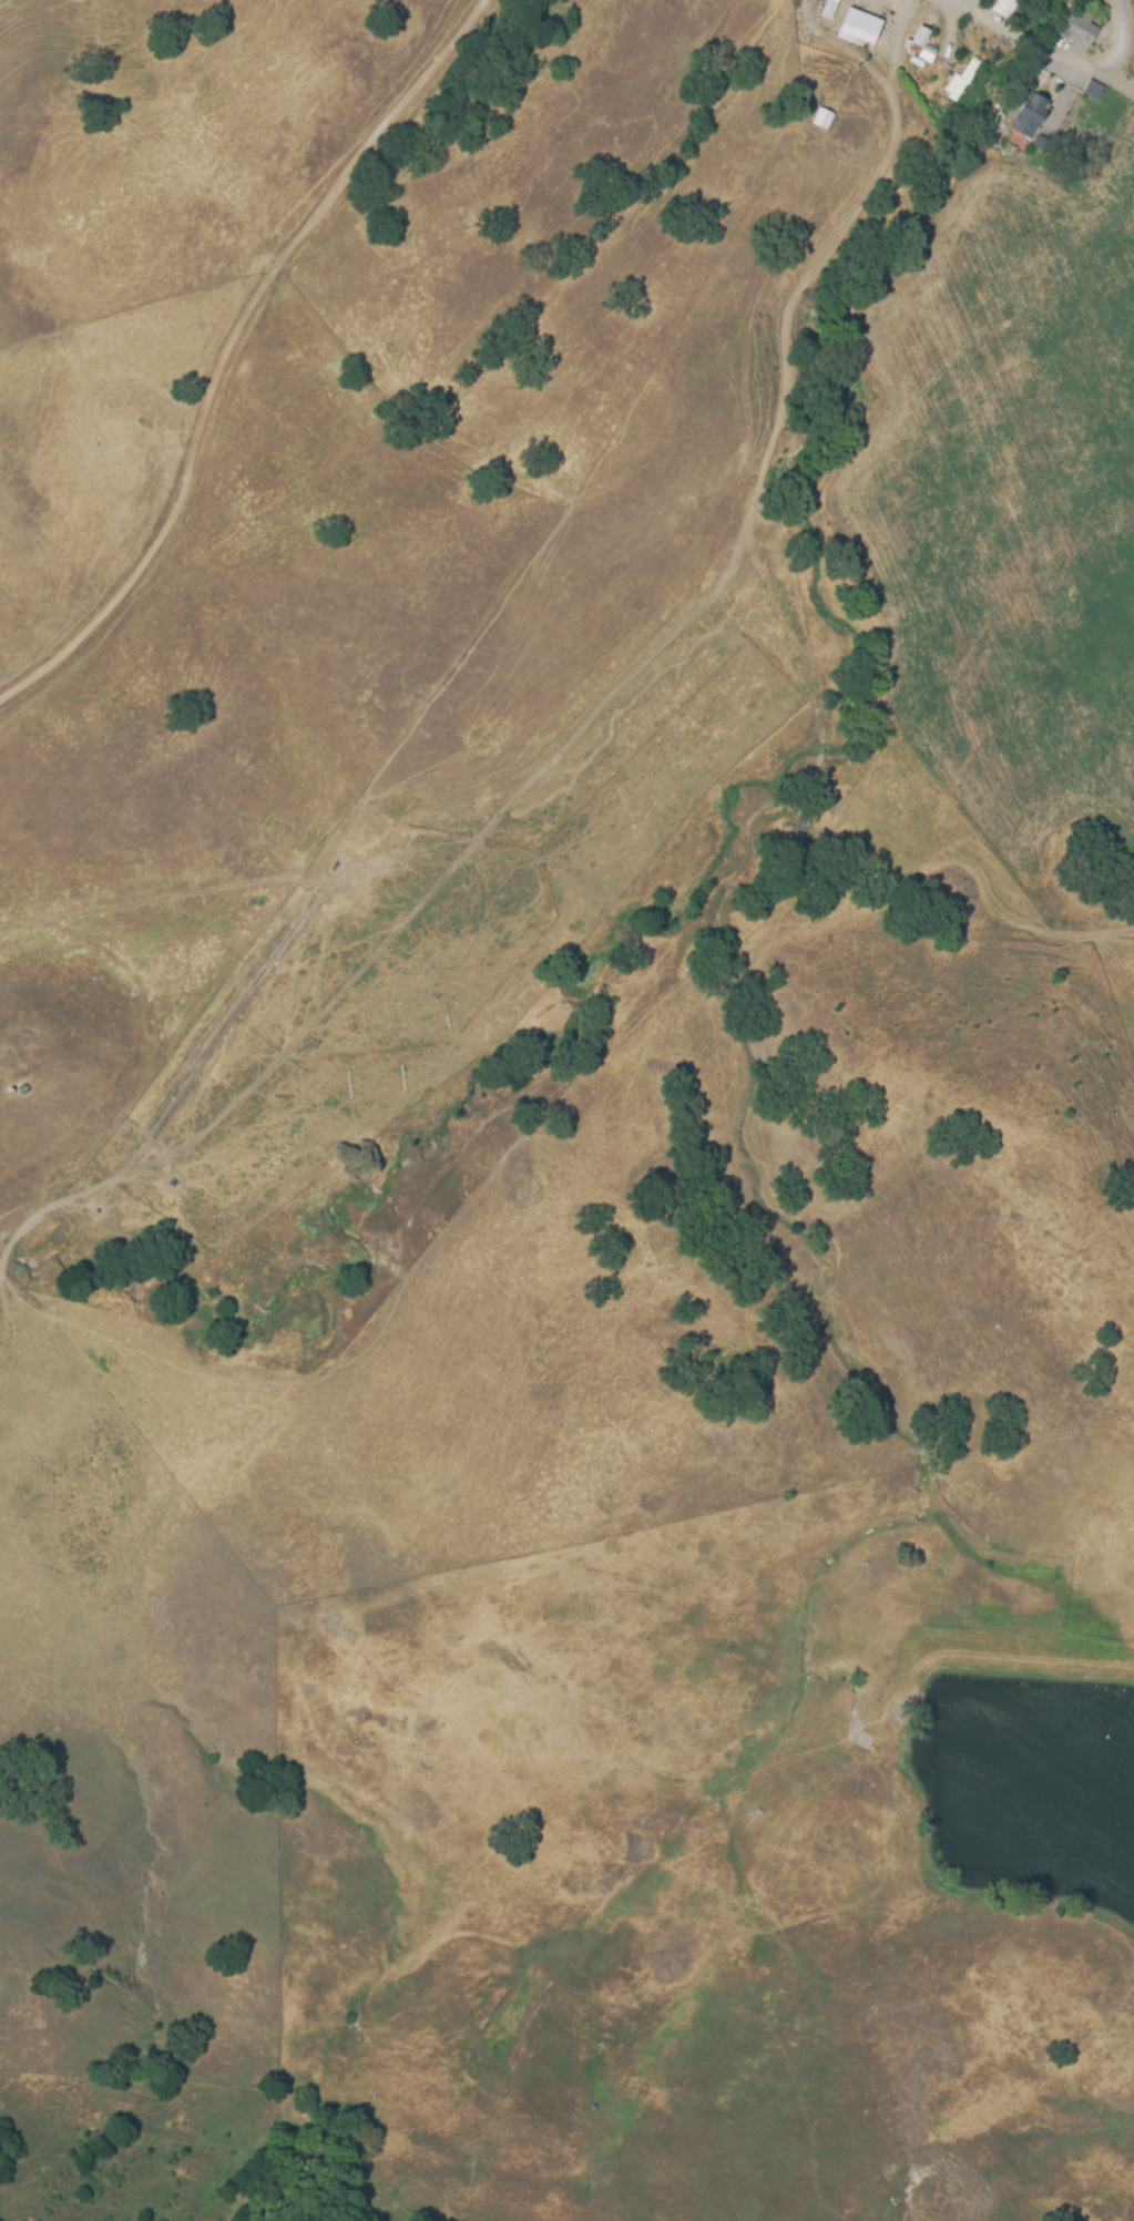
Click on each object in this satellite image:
building: (1003, 7)
building: (828, 8)
building: (859, 27)
building: (1077, 28)
building: (920, 44)
road: (1060, 58)
building: (959, 81)
building: (1029, 116)
building: (821, 119)
dam: (1003, 1672)

